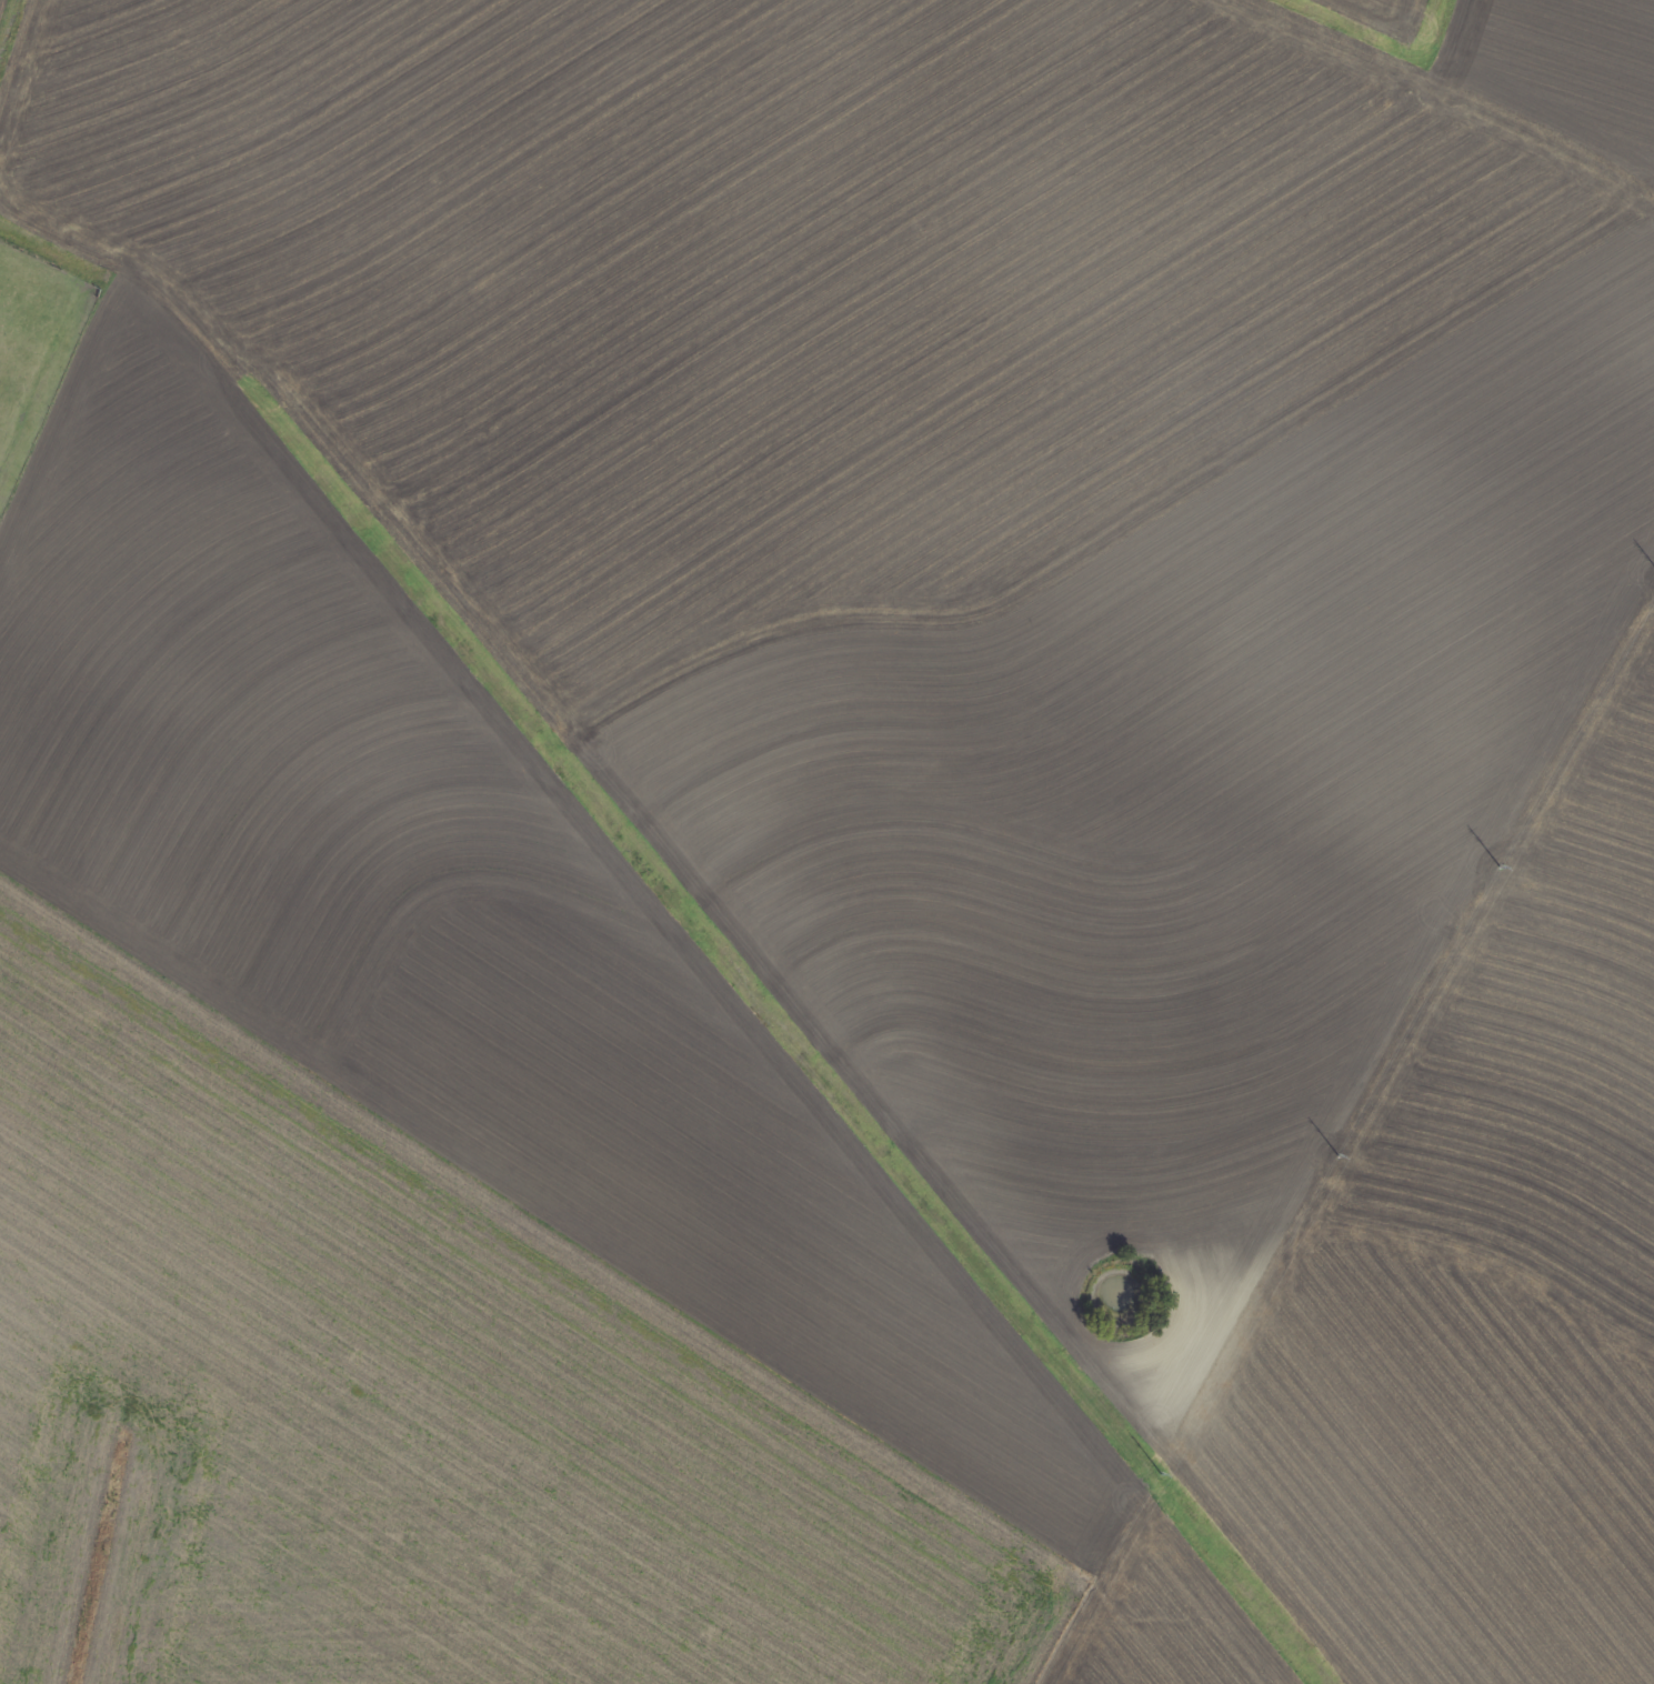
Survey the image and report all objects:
power tower: (1497, 869)
power tower: (1336, 1157)
power tower: (1159, 1475)

